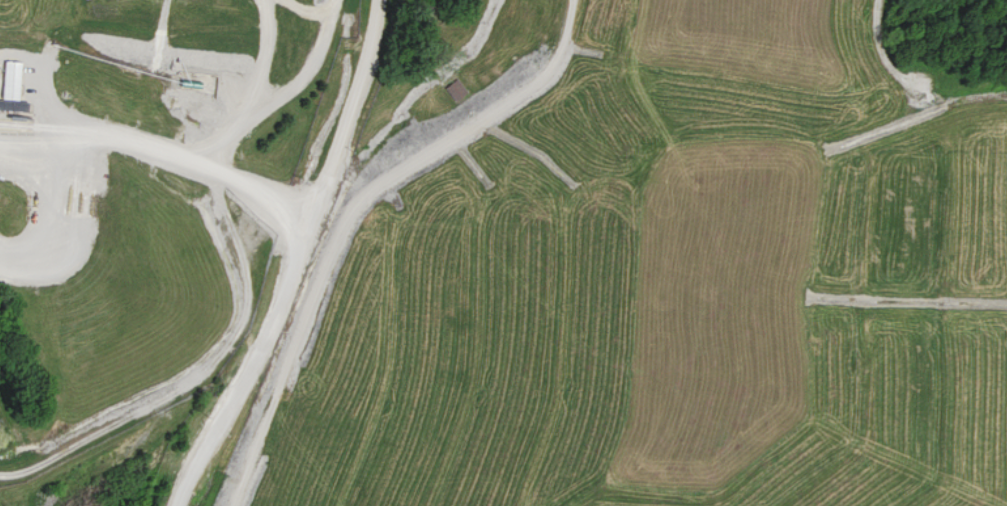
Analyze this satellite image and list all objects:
building: (459, 89)
road: (281, 93)
road: (97, 129)
road: (252, 185)
road: (295, 260)

